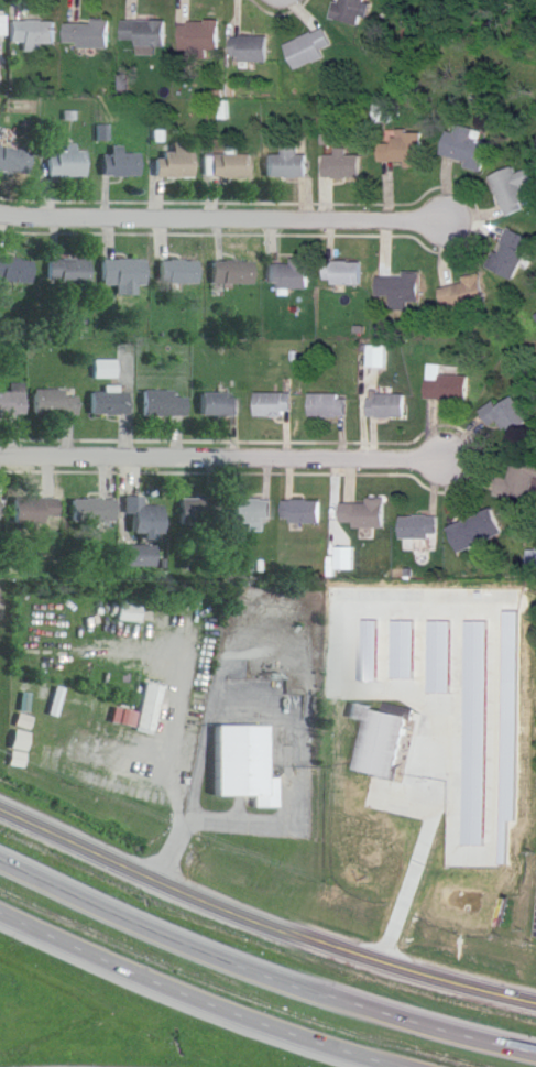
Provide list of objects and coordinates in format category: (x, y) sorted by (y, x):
building: (355, 11)
building: (3, 24)
building: (35, 33)
building: (146, 33)
building: (89, 35)
building: (201, 36)
building: (313, 48)
building: (252, 50)
building: (386, 115)
building: (469, 148)
building: (404, 150)
building: (18, 161)
building: (72, 164)
building: (127, 164)
building: (181, 164)
building: (291, 164)
building: (344, 165)
building: (237, 166)
building: (516, 190)
road: (221, 222)
building: (515, 254)
building: (18, 271)
building: (72, 273)
building: (183, 273)
building: (237, 273)
building: (347, 273)
building: (128, 276)
building: (292, 276)
building: (402, 288)
building: (468, 295)
building: (449, 385)
building: (15, 403)
building: (59, 403)
building: (113, 404)
building: (167, 405)
building: (223, 405)
building: (276, 405)
building: (331, 406)
building: (391, 407)
building: (512, 418)
road: (219, 460)
building: (521, 481)
building: (42, 511)
building: (97, 512)
building: (200, 512)
building: (305, 512)
building: (254, 513)
building: (367, 514)
building: (150, 522)
building: (423, 529)
building: (480, 532)
building: (143, 557)
building: (348, 558)
building: (136, 611)
building: (155, 708)
building: (383, 743)
building: (251, 765)
road: (179, 767)
road: (420, 853)
road: (263, 921)
road: (261, 973)
road: (190, 997)
road: (86, 1066)

